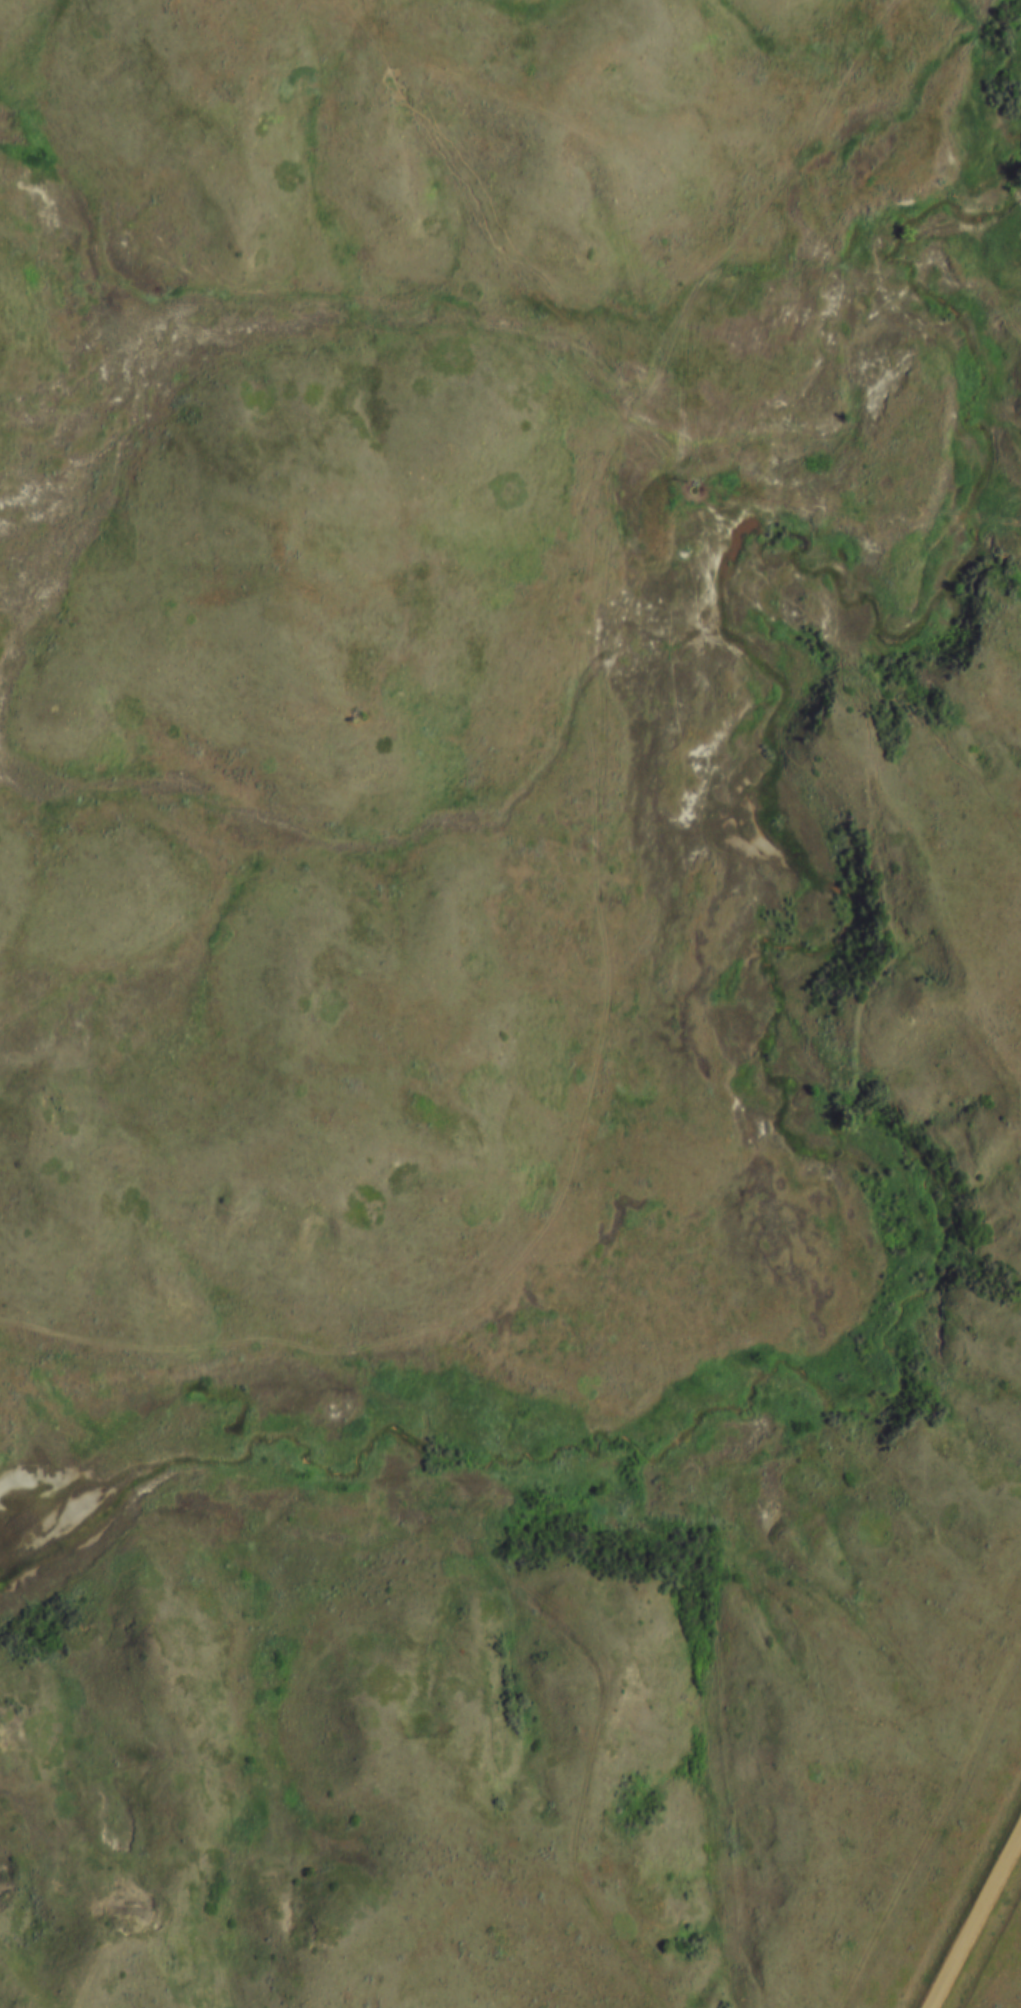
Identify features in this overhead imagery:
road: (149, 595)
road: (604, 878)
road: (573, 1664)
road: (975, 1918)

